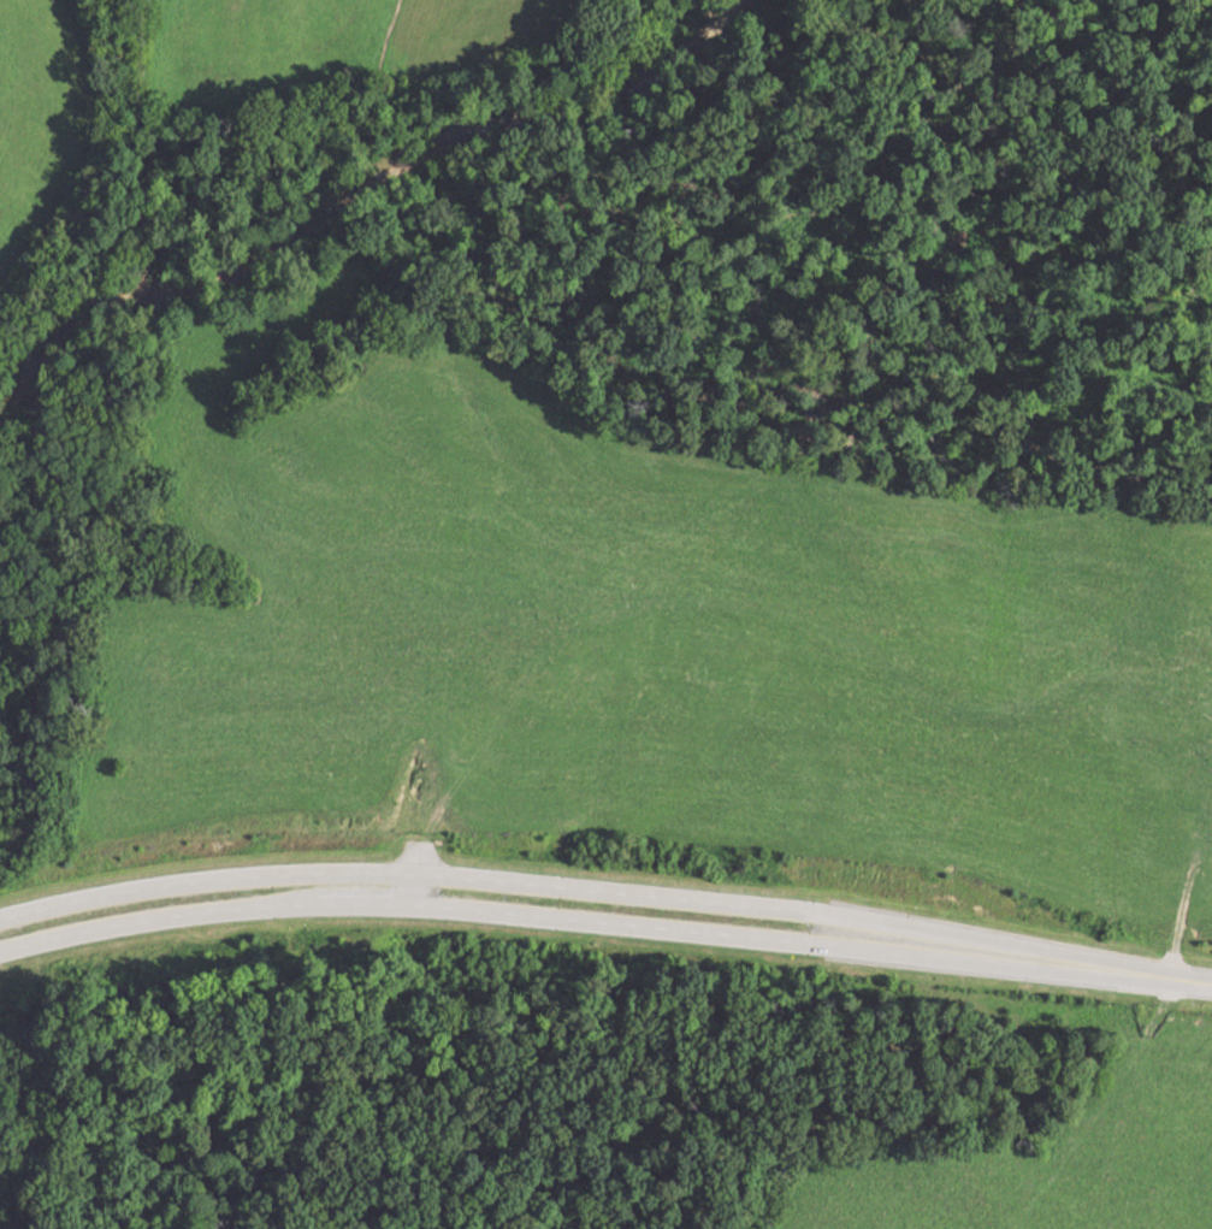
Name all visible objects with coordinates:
road: (534, 881)
road: (532, 911)
road: (1139, 973)

